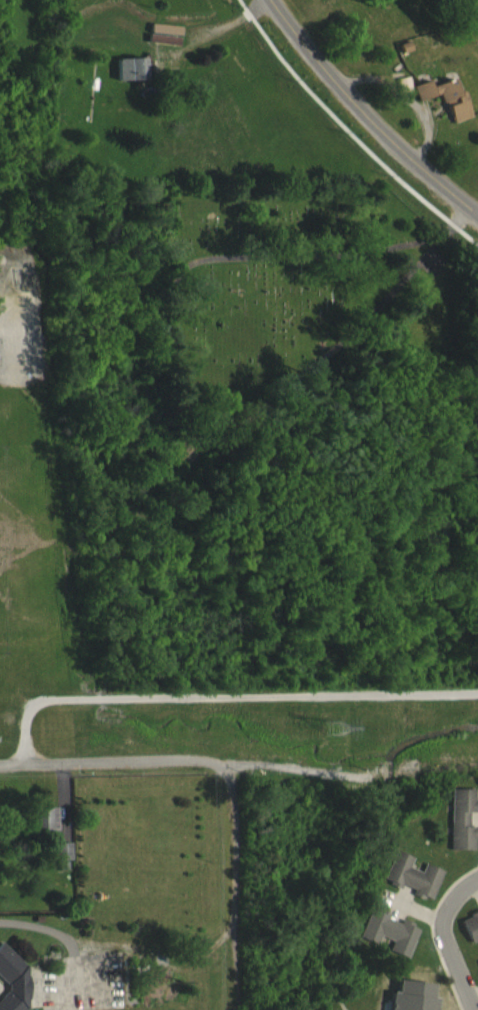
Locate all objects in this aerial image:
road: (215, 26)
building: (162, 44)
building: (129, 79)
building: (444, 108)
road: (363, 111)
power tower: (339, 727)
road: (113, 763)
building: (43, 828)
building: (460, 829)
building: (61, 861)
building: (410, 885)
road: (230, 886)
building: (470, 935)
road: (446, 939)
building: (386, 941)
building: (477, 972)
building: (12, 985)

